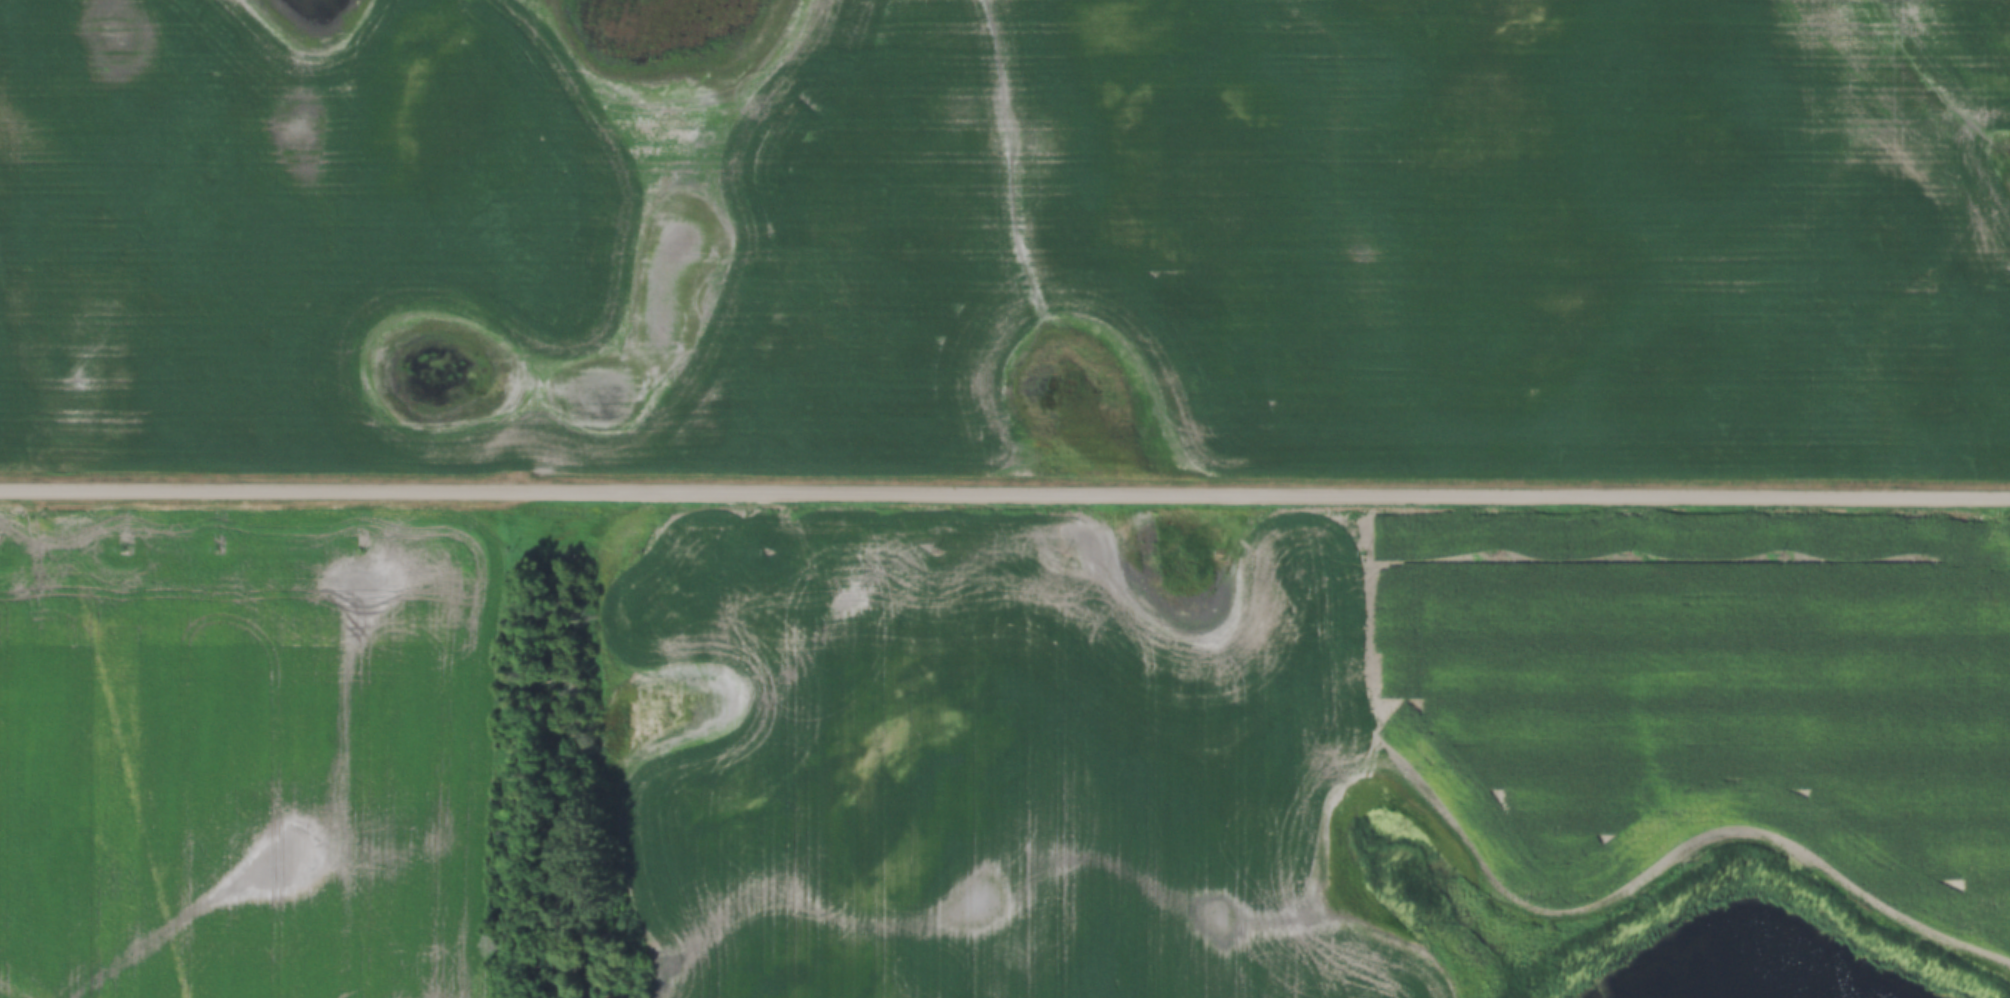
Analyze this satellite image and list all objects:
road: (1005, 492)

